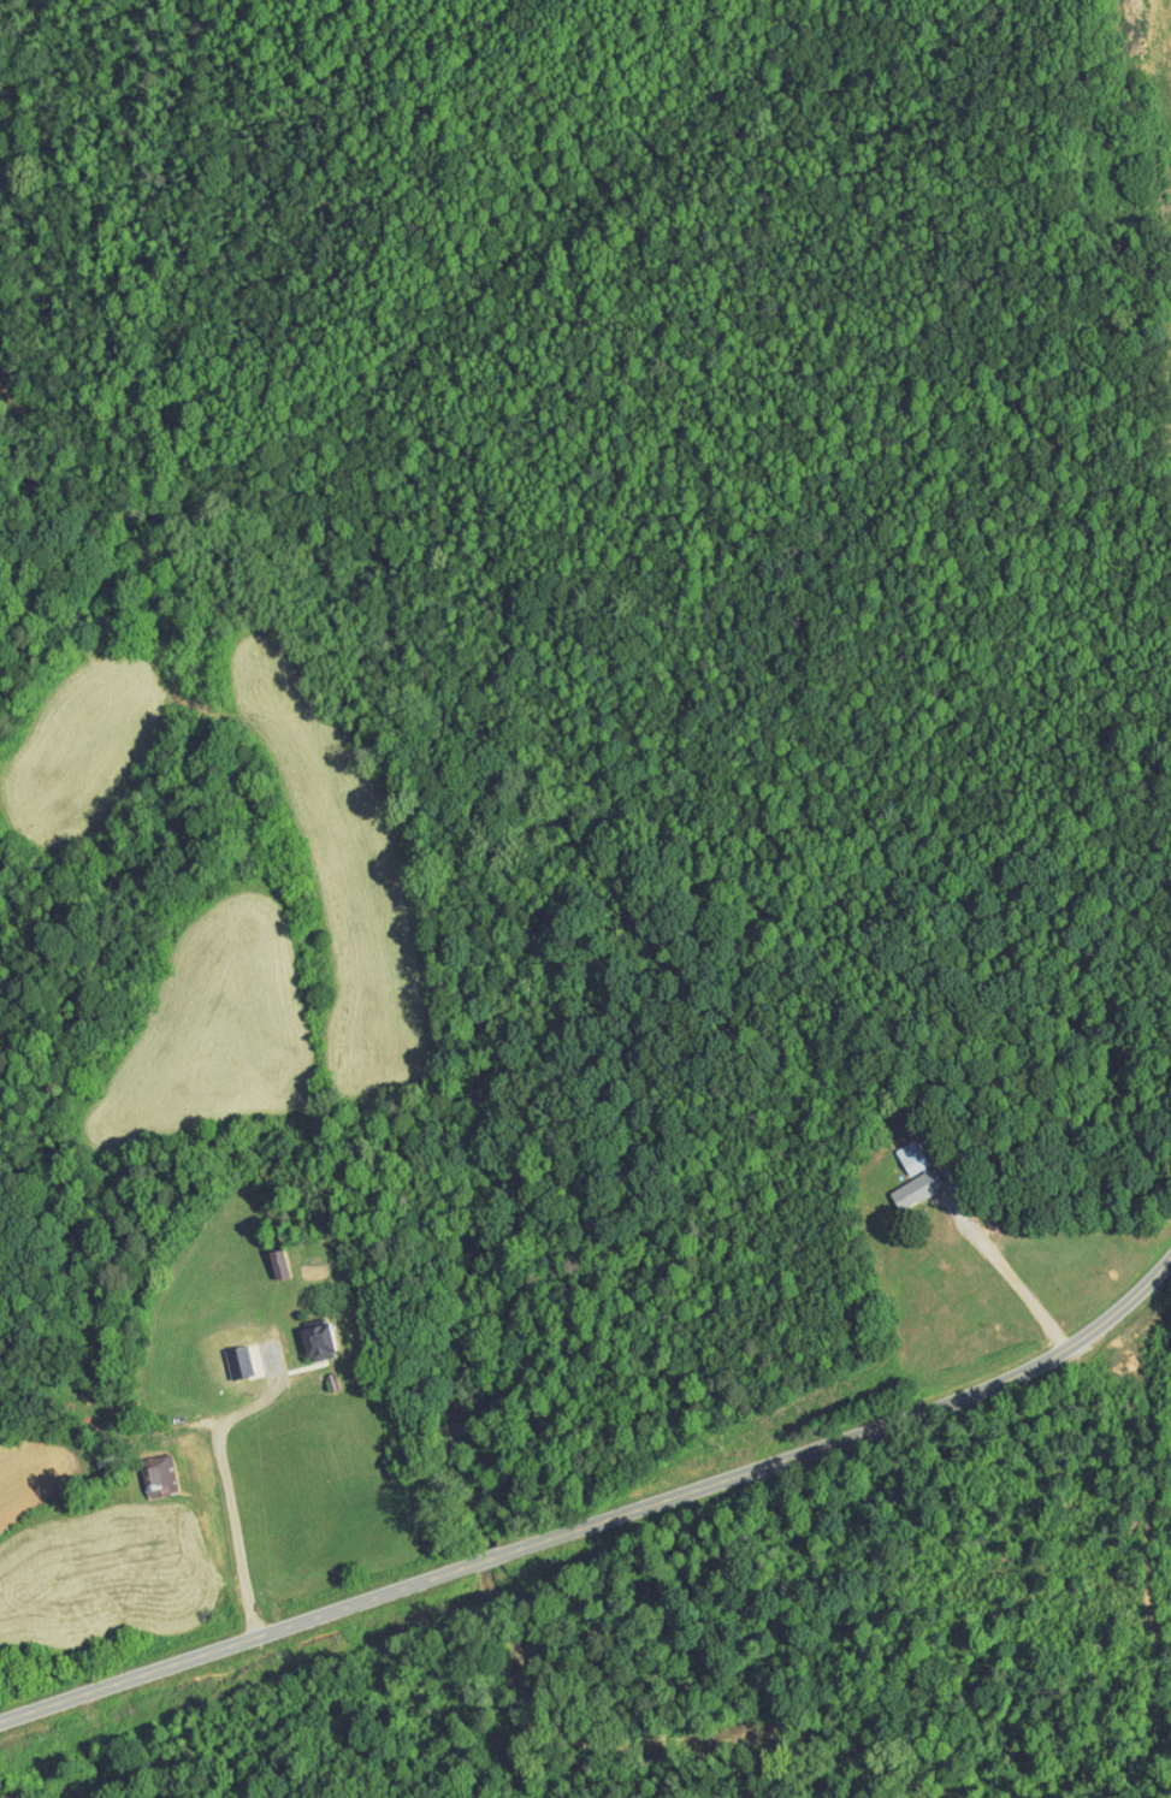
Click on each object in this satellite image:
building: (1167, 37)
building: (897, 1149)
building: (901, 1181)
road: (995, 1253)
building: (313, 1331)
building: (232, 1354)
building: (158, 1466)
road: (217, 1494)
road: (601, 1520)

